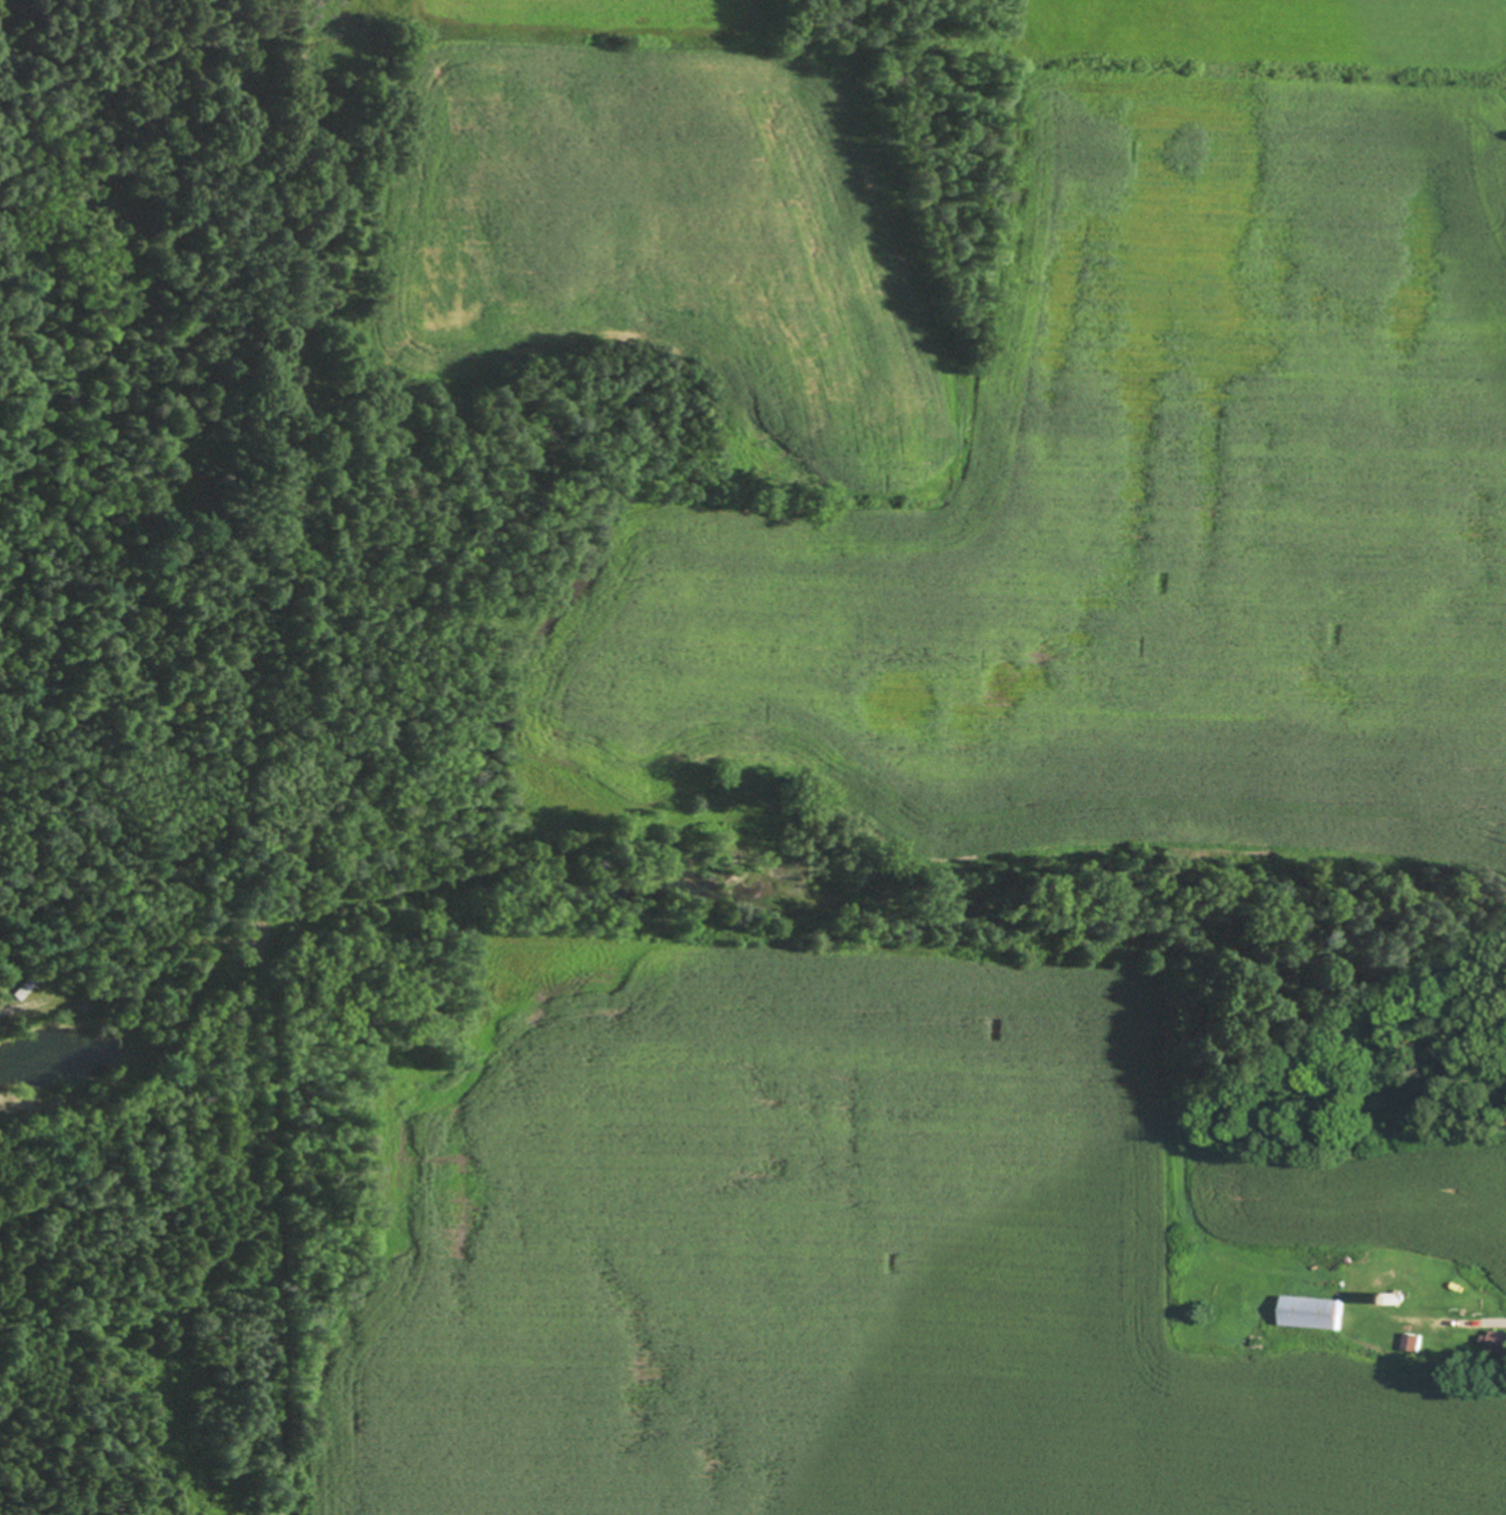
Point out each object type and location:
building: (25, 983)
building: (1396, 1090)
road: (262, 1236)
building: (1402, 1299)
building: (1316, 1311)
building: (1499, 1339)
building: (1418, 1340)
building: (1488, 1369)

